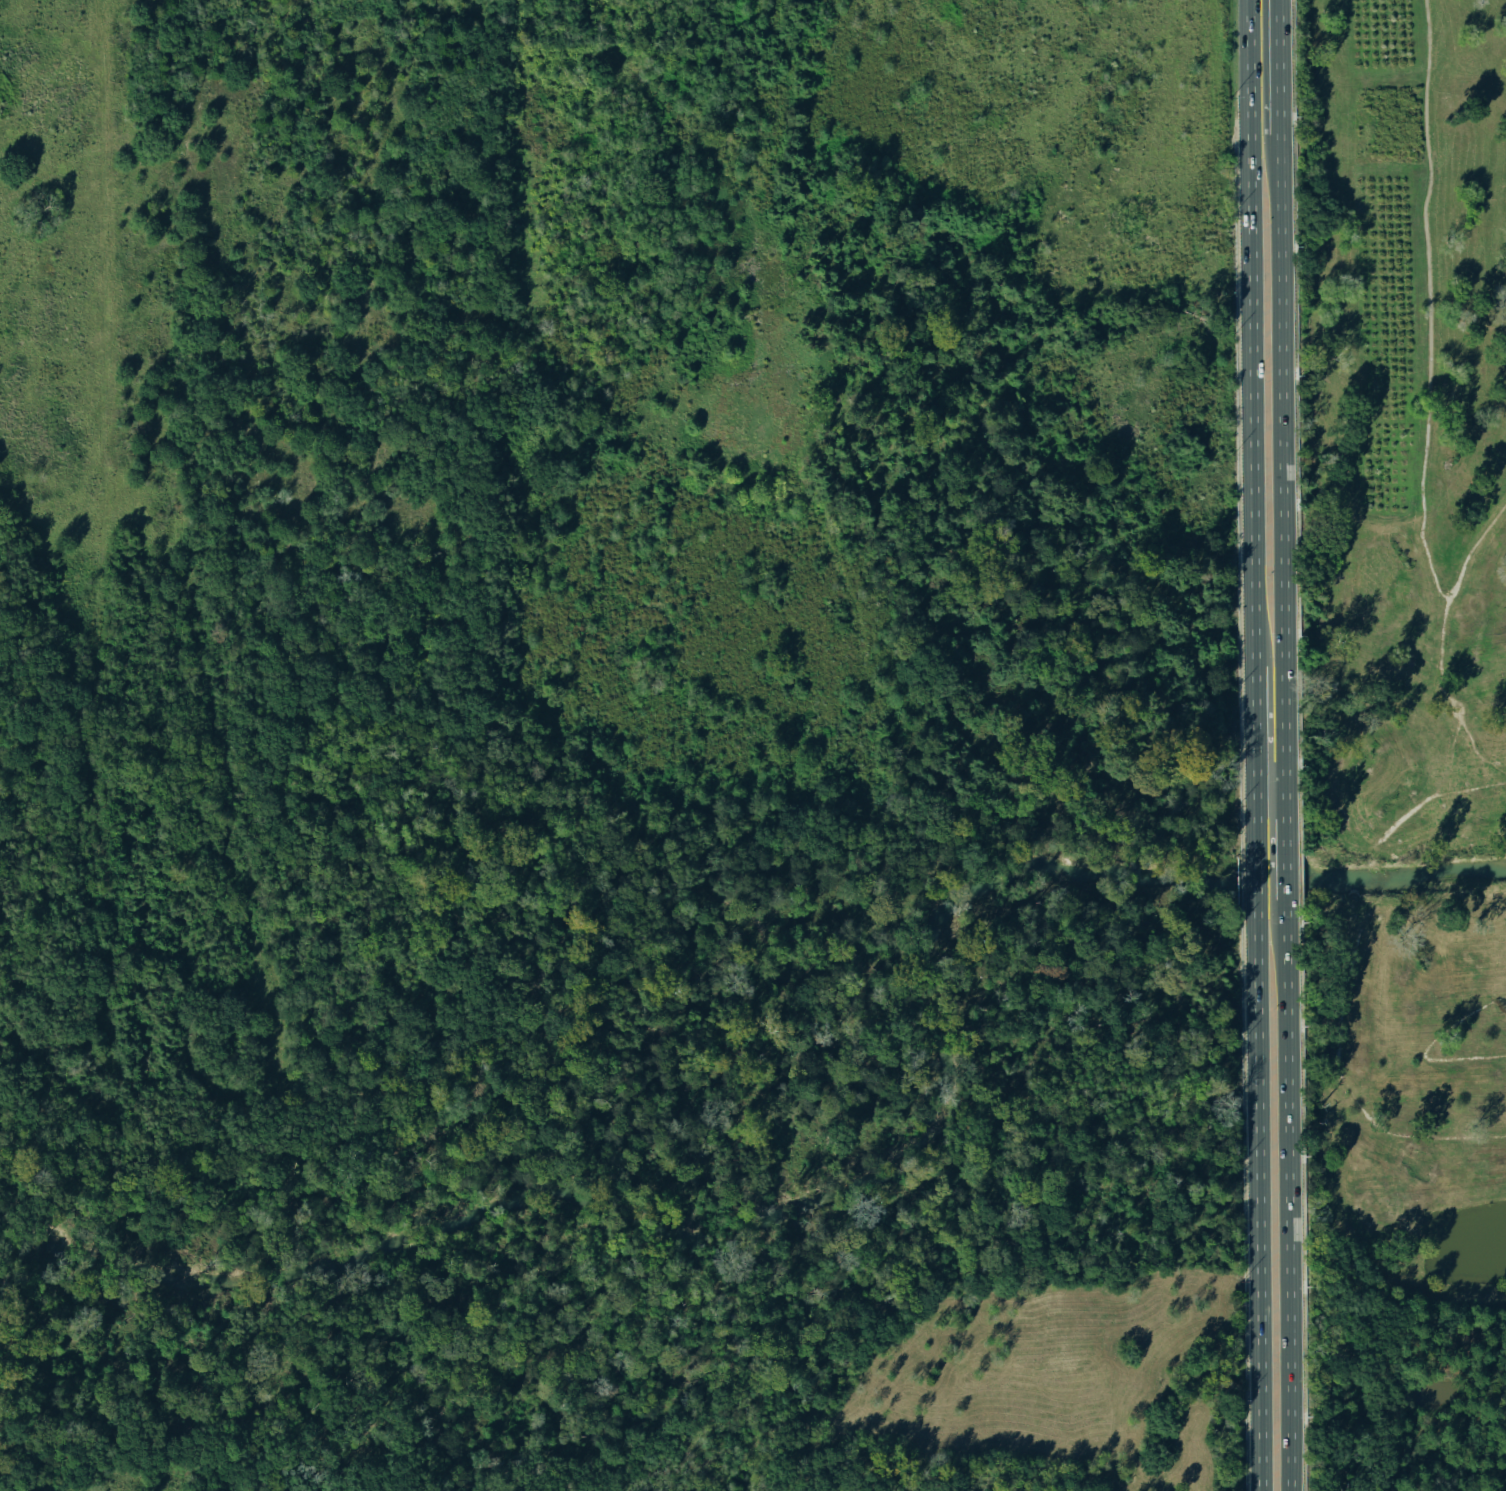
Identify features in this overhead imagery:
road: (1274, 64)
road: (1248, 310)
road: (1431, 366)
road: (1277, 455)
road: (1472, 549)
park: (1376, 569)
park: (1411, 636)
road: (1251, 702)
park: (1402, 741)
road: (1477, 751)
park: (1385, 773)
road: (1266, 783)
road: (1469, 787)
road: (1422, 802)
road: (1252, 819)
road: (1280, 819)
road: (1354, 876)
road: (1252, 880)
road: (1280, 881)
road: (1281, 914)
road: (1358, 937)
park: (1439, 979)
road: (1428, 1046)
road: (1343, 1078)
park: (1393, 1189)
road: (1256, 1198)
road: (1285, 1206)

